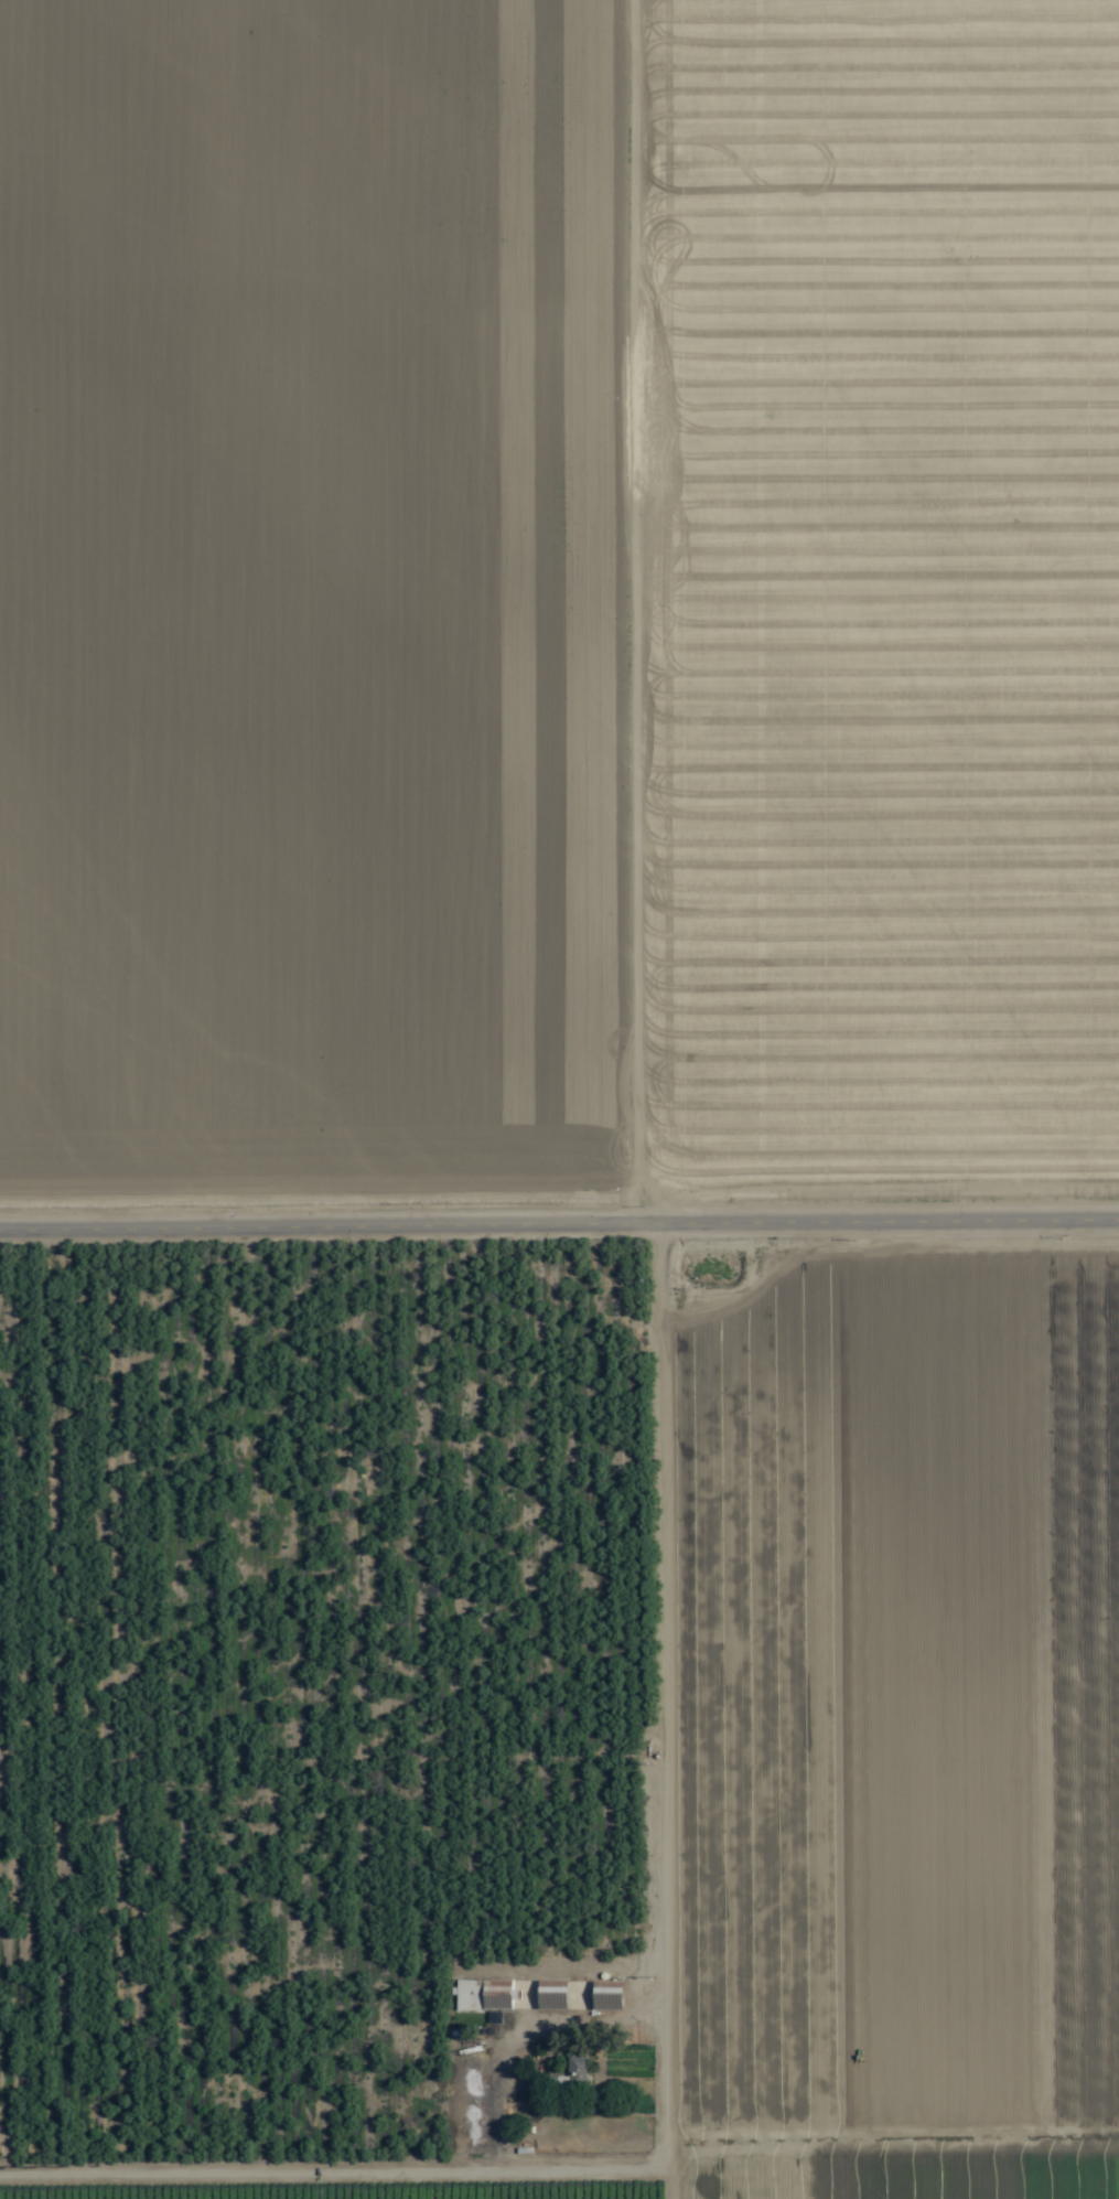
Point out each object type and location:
wastewater plant: (520, 369)
crop: (559, 1099)
road: (613, 1099)
road: (559, 1212)
road: (771, 1704)
road: (309, 1788)
building: (484, 1995)
building: (550, 1995)
building: (605, 1996)
building: (575, 2070)

